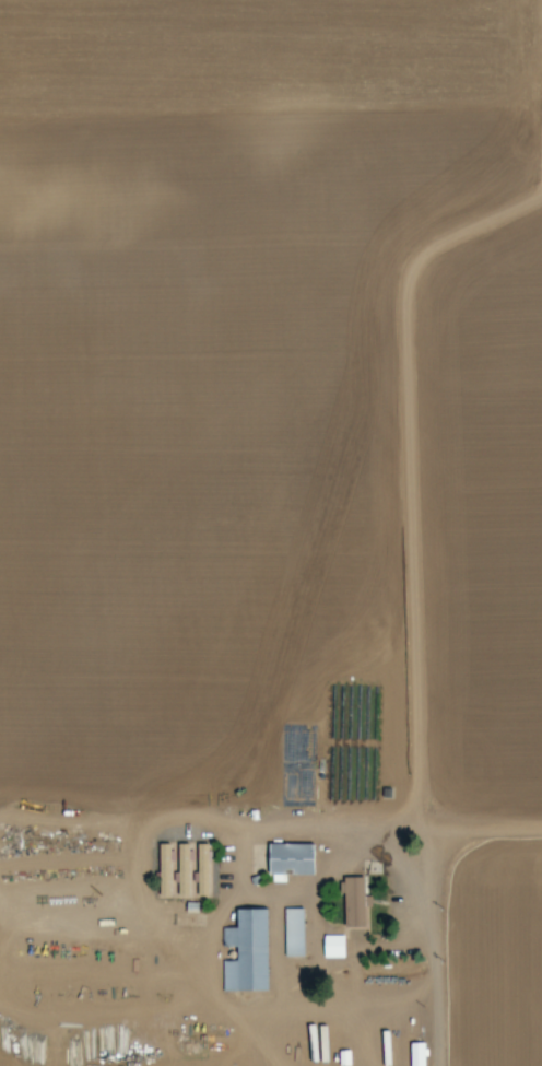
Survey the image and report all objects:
road: (434, 532)
building: (290, 859)
building: (294, 933)
building: (333, 947)
building: (246, 953)
building: (417, 1055)

